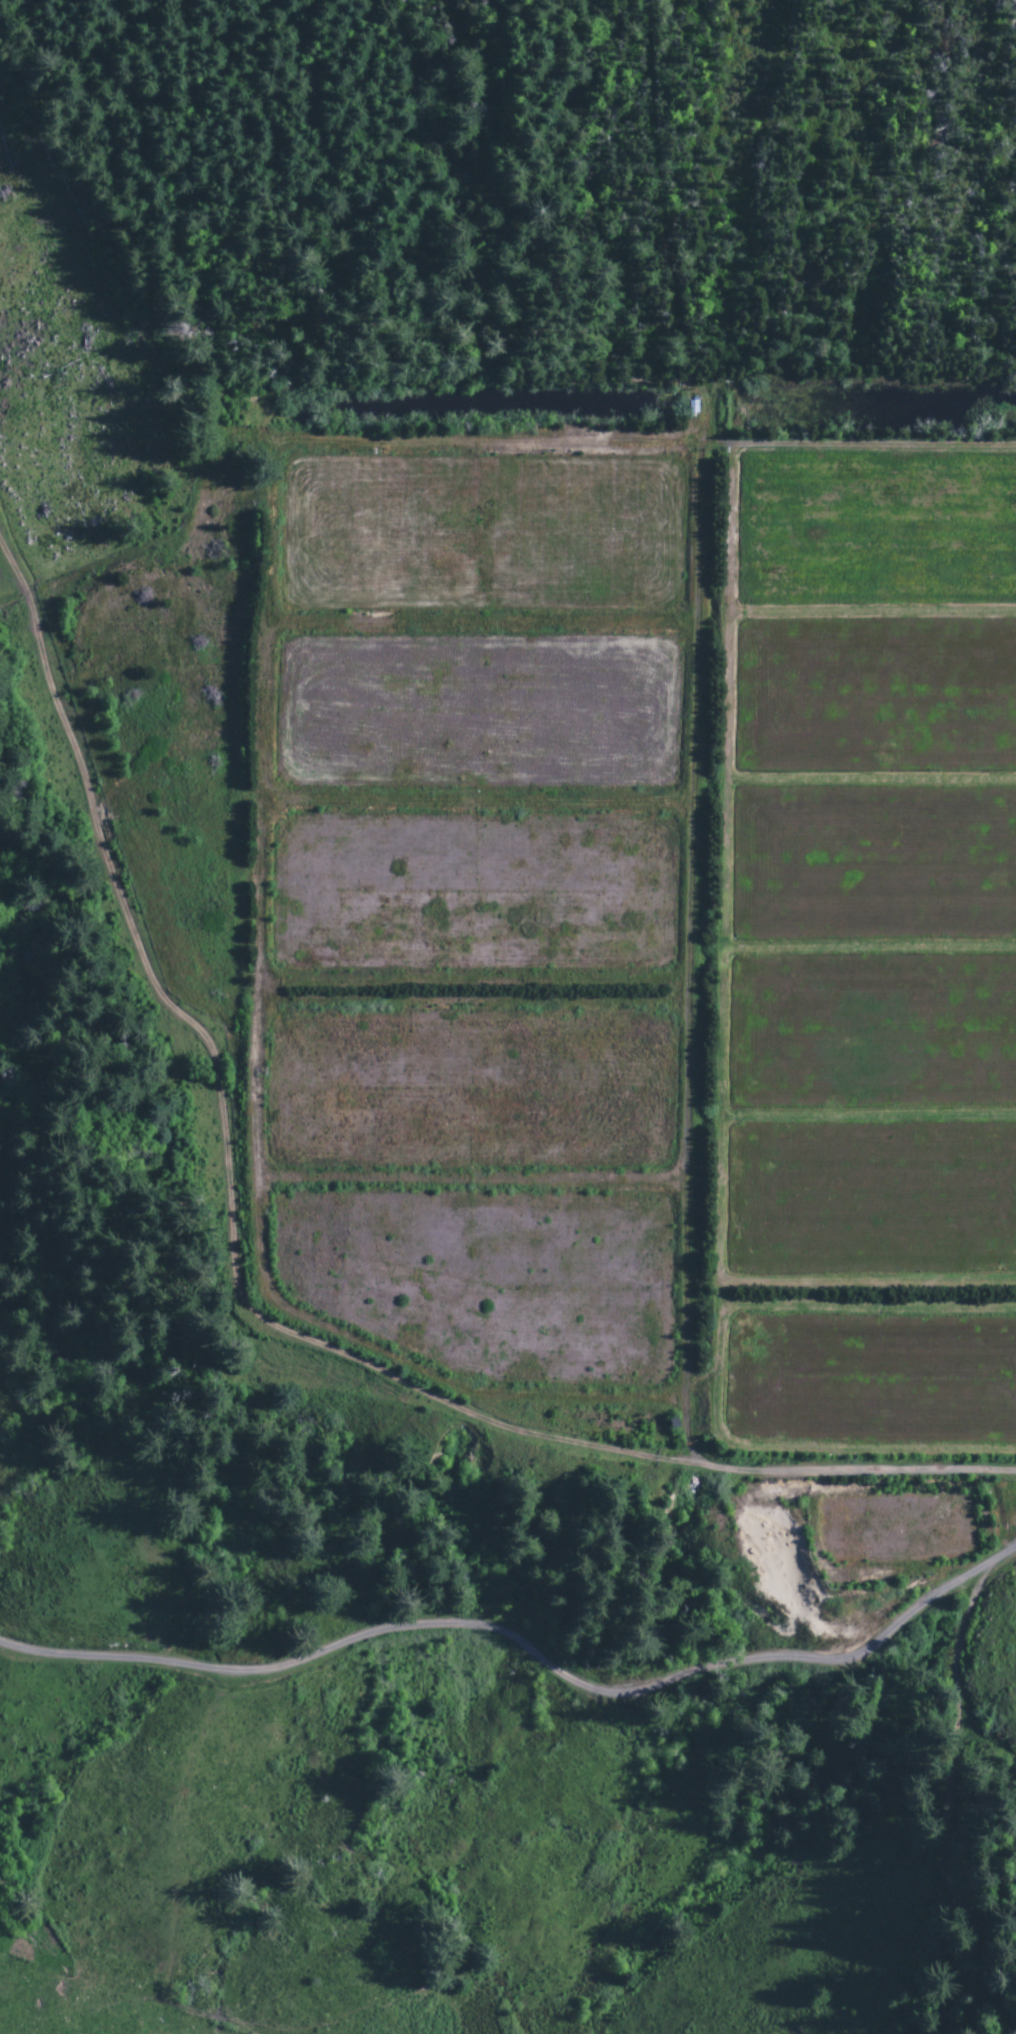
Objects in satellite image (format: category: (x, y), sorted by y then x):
crop: (875, 532)
crop: (478, 534)
crop: (875, 697)
crop: (476, 713)
crop: (873, 863)
crop: (471, 895)
crop: (870, 1033)
crop: (468, 1089)
crop: (870, 1202)
crop: (485, 1281)
road: (243, 1301)
crop: (871, 1382)
crop: (895, 1528)
road: (525, 1647)

